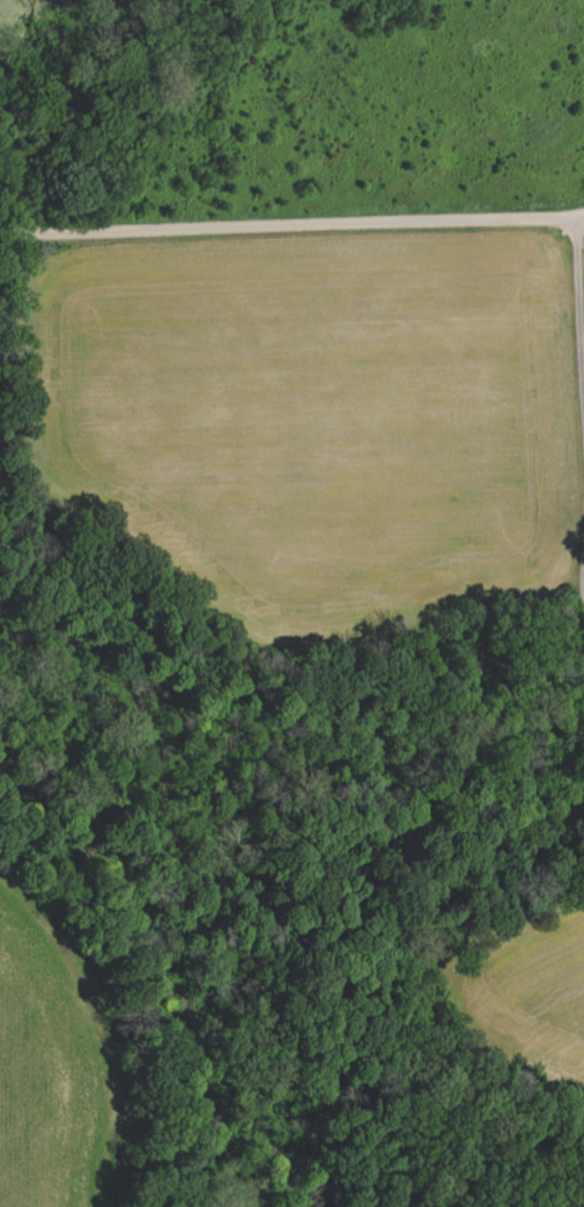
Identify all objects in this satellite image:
road: (291, 227)
road: (579, 313)

